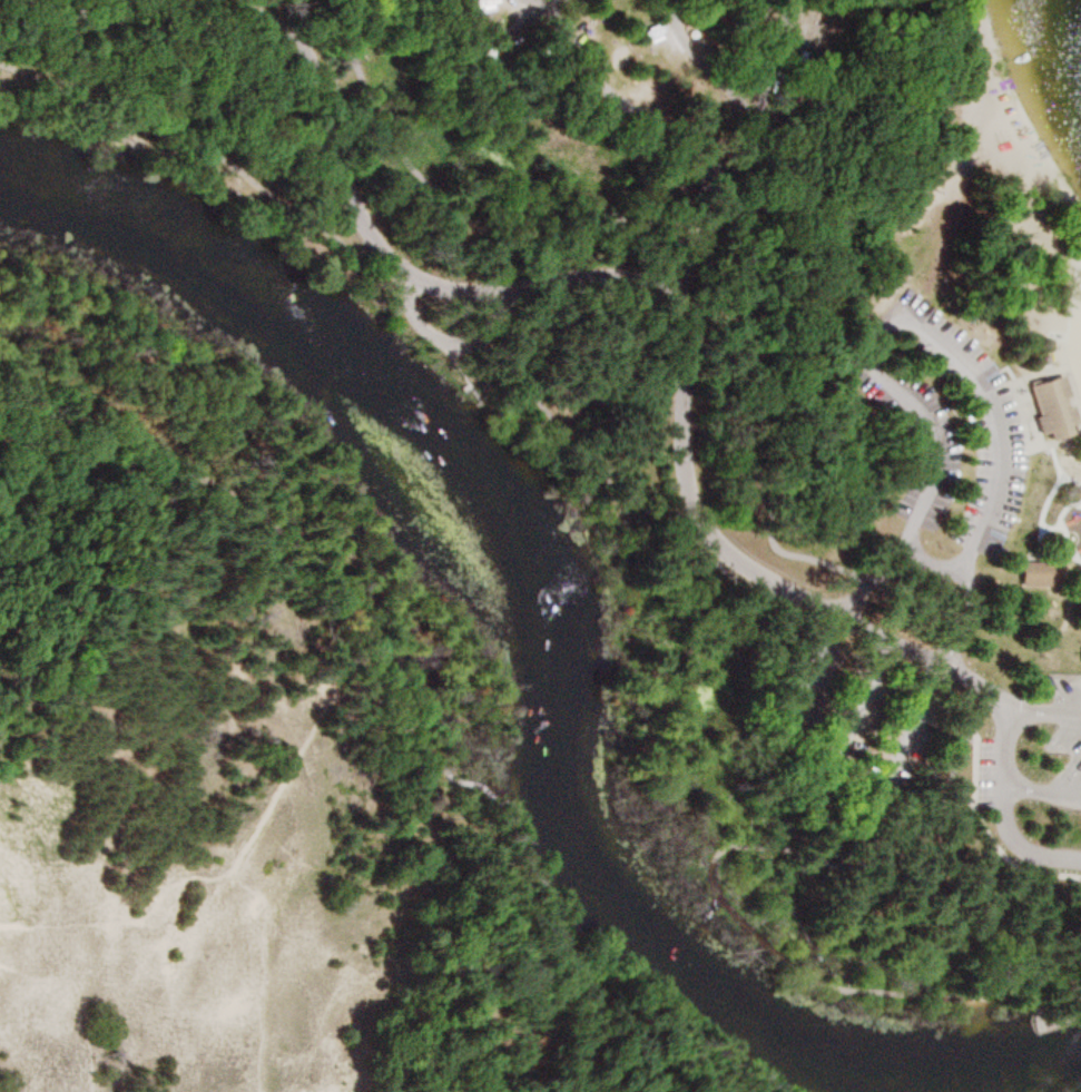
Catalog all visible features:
building: (484, 4)
road: (969, 30)
road: (704, 66)
road: (213, 153)
road: (701, 163)
road: (694, 239)
road: (706, 252)
road: (564, 276)
park: (815, 295)
road: (932, 328)
road: (441, 338)
building: (1053, 409)
parking lot: (979, 431)
parking lot: (920, 440)
road: (53, 466)
road: (637, 499)
road: (272, 521)
park: (535, 550)
building: (1038, 573)
road: (96, 589)
river: (542, 667)
parking lot: (849, 722)
parking lot: (1062, 740)
road: (951, 771)
road: (1041, 790)
road: (910, 806)
road: (1000, 813)
road: (974, 815)
road: (600, 945)
road: (790, 960)

